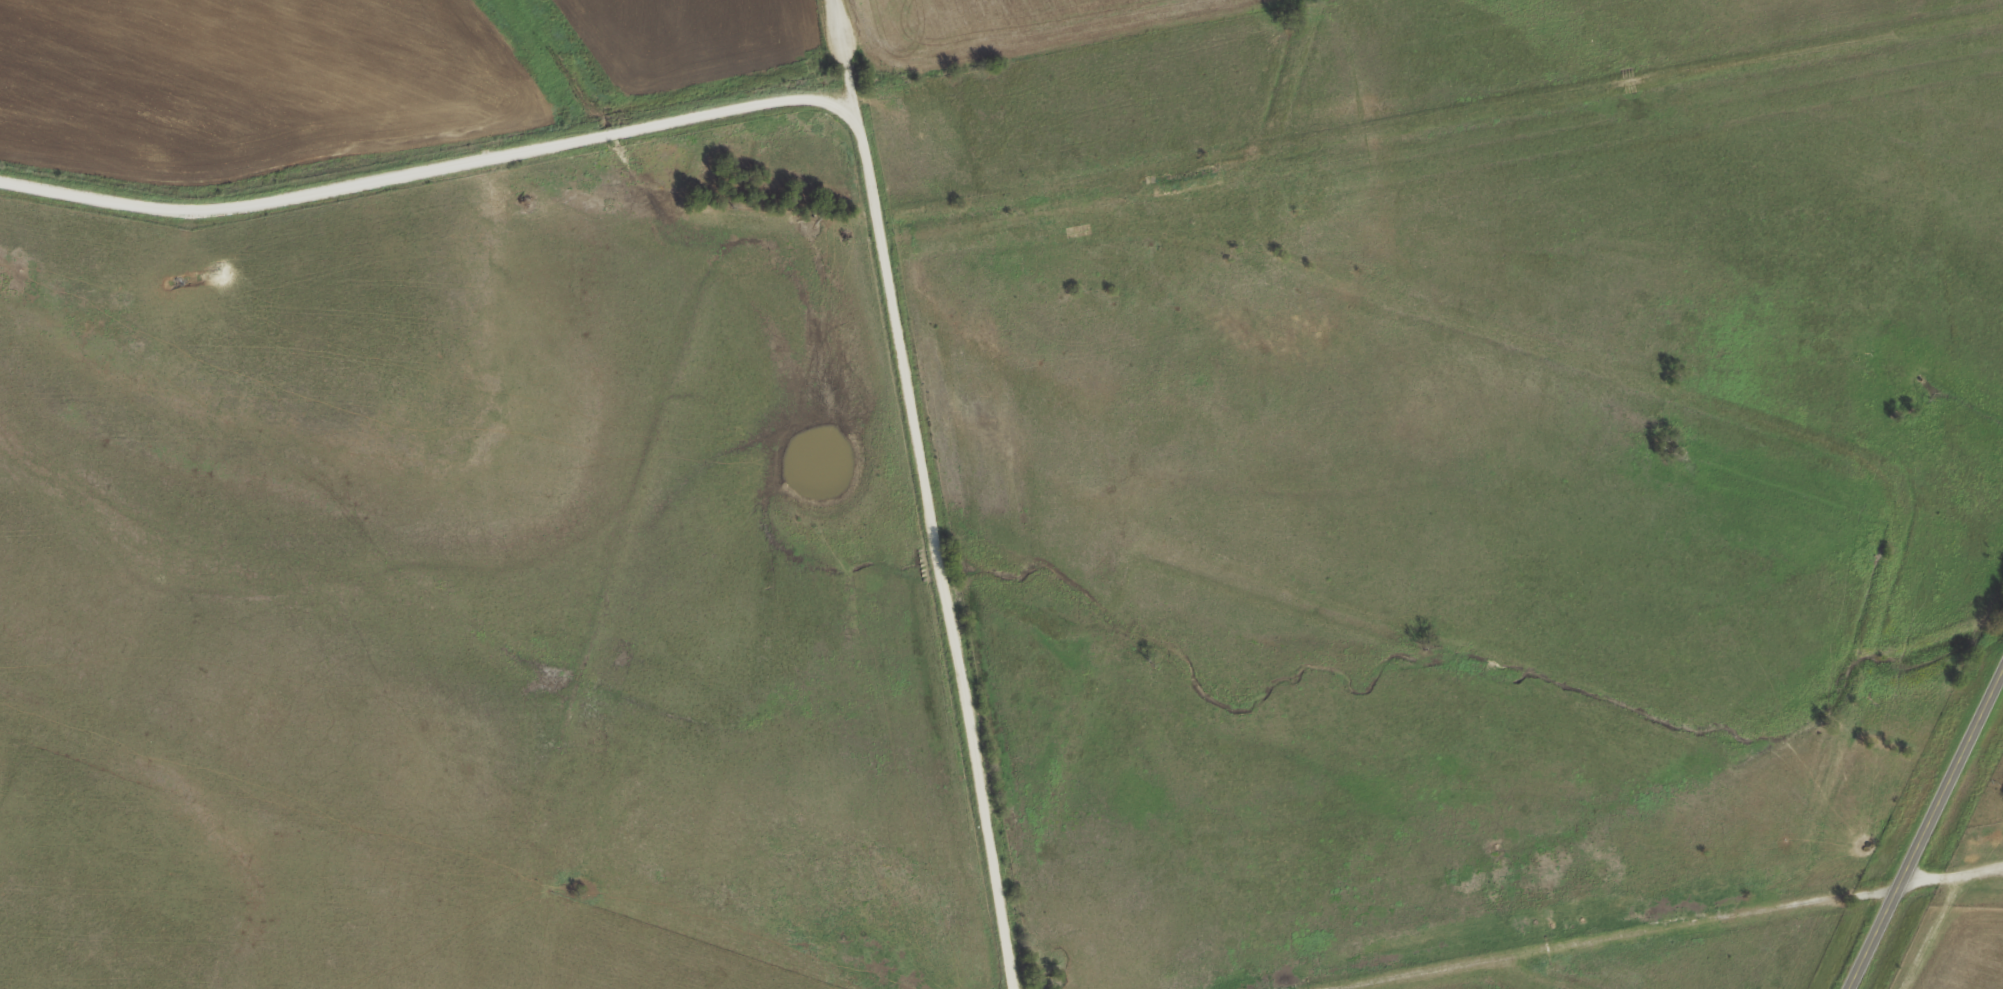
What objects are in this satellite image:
road: (855, 56)
railway: (1218, 163)
road: (434, 175)
road: (939, 551)
road: (1924, 828)
road: (1989, 875)
road: (1658, 928)
road: (1946, 930)

